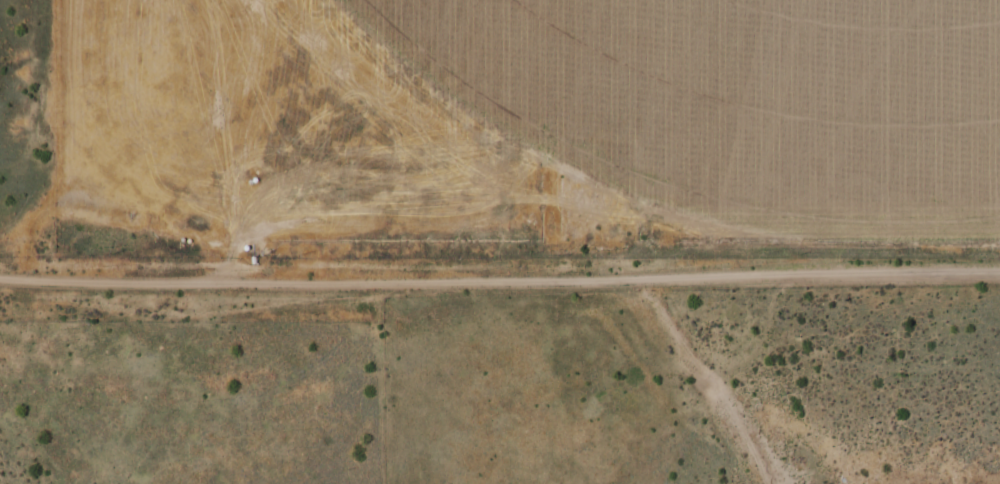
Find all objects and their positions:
crop: (744, 96)
road: (500, 277)
road: (700, 378)

